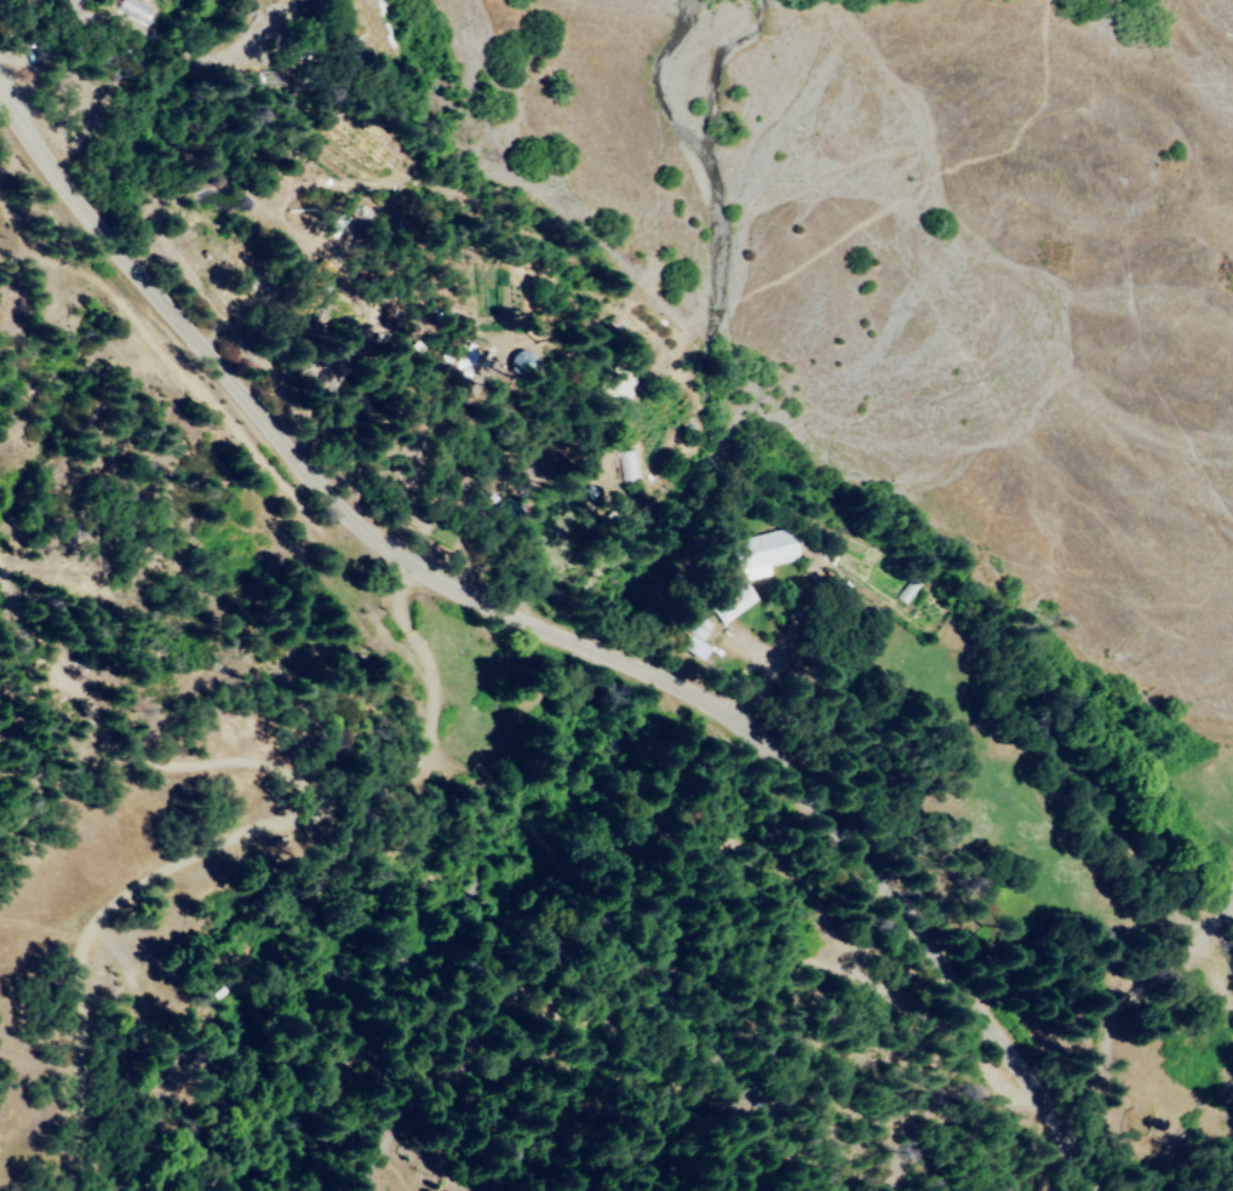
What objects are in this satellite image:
building: (147, 0)
building: (302, 0)
road: (63, 56)
road: (206, 155)
building: (767, 552)
building: (735, 603)
road: (543, 629)
road: (196, 863)
road: (774, 1120)

